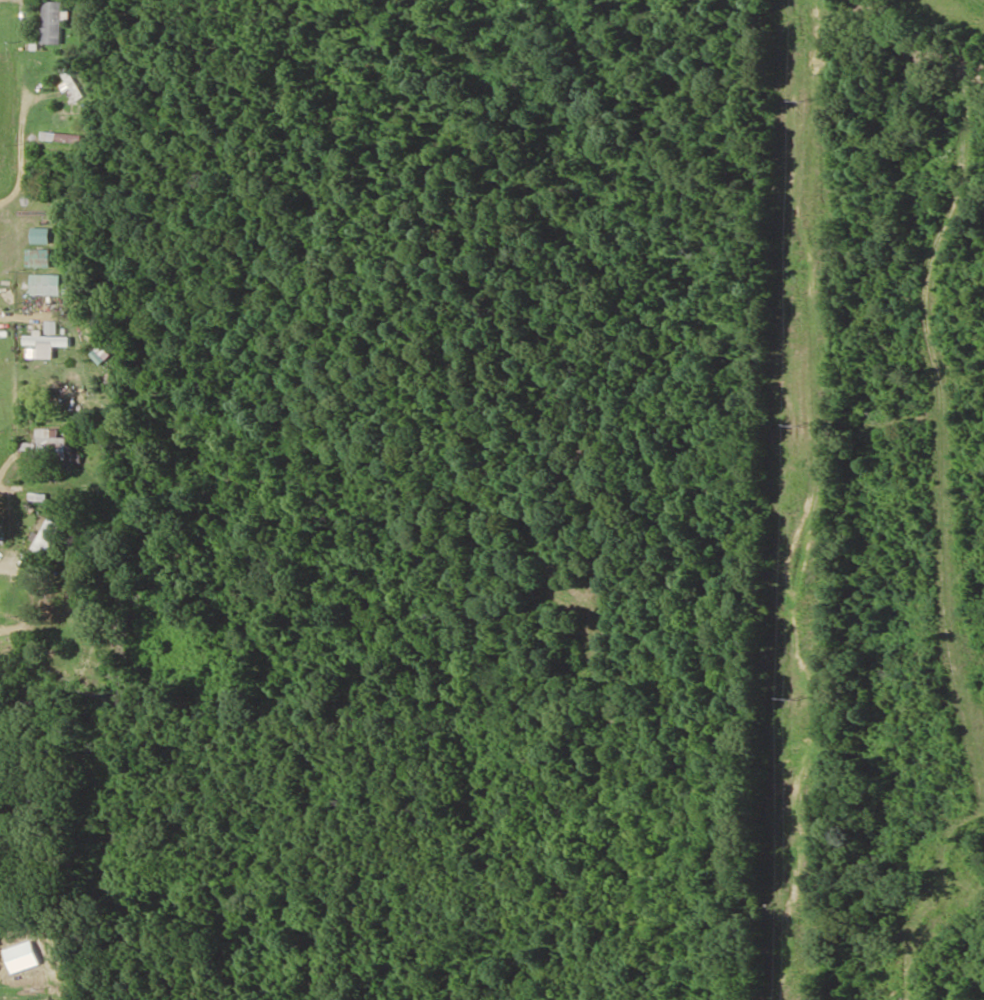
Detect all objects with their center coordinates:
building: (53, 23)
road: (941, 25)
building: (40, 259)
building: (48, 285)
building: (50, 339)
building: (45, 446)
building: (47, 537)
road: (199, 963)

